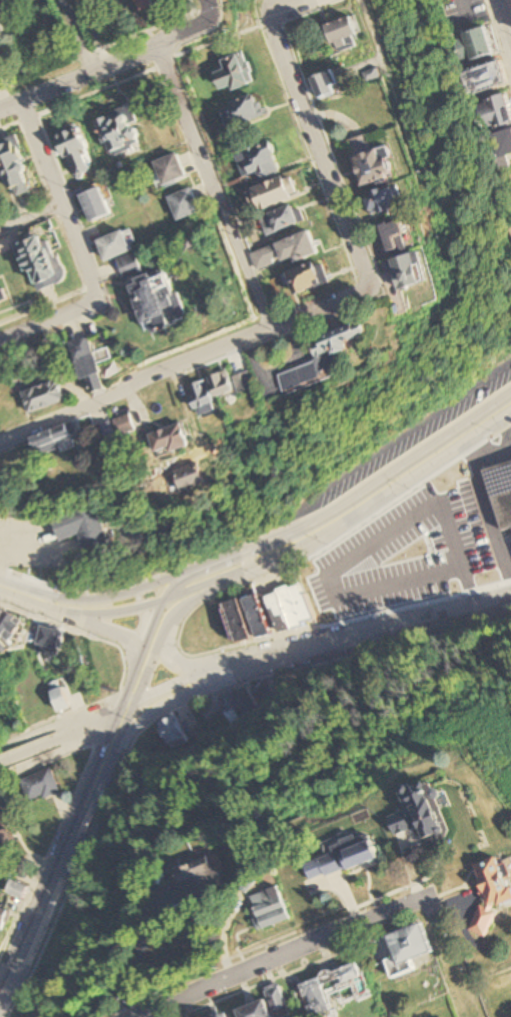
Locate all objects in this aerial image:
road: (302, 1)
road: (277, 2)
road: (325, 2)
road: (191, 6)
road: (463, 10)
road: (212, 12)
road: (304, 12)
road: (254, 13)
park: (242, 16)
road: (504, 21)
road: (238, 22)
road: (269, 23)
building: (343, 31)
road: (201, 32)
road: (234, 34)
road: (78, 36)
road: (498, 41)
building: (471, 46)
road: (377, 47)
road: (97, 51)
road: (104, 69)
building: (371, 74)
building: (485, 77)
building: (323, 83)
road: (87, 94)
building: (495, 112)
road: (316, 140)
building: (503, 142)
road: (309, 159)
building: (372, 162)
road: (215, 187)
road: (225, 190)
building: (385, 197)
road: (61, 202)
building: (510, 208)
road: (31, 216)
building: (402, 255)
road: (99, 268)
road: (375, 271)
road: (51, 321)
road: (186, 363)
building: (245, 381)
building: (222, 384)
road: (504, 412)
parking lot: (415, 436)
road: (390, 443)
parking lot: (502, 443)
road: (493, 455)
road: (415, 467)
building: (500, 492)
road: (488, 513)
road: (270, 531)
road: (260, 545)
road: (366, 546)
parking lot: (404, 553)
road: (244, 570)
road: (13, 595)
road: (116, 596)
road: (139, 598)
building: (295, 603)
road: (44, 607)
building: (276, 612)
road: (114, 614)
road: (185, 615)
building: (255, 615)
building: (235, 620)
road: (140, 624)
road: (153, 624)
road: (167, 627)
road: (107, 631)
road: (129, 643)
road: (251, 665)
road: (179, 667)
road: (170, 710)
road: (40, 732)
building: (40, 785)
building: (420, 813)
building: (267, 835)
road: (65, 847)
building: (344, 858)
building: (193, 881)
building: (244, 883)
building: (489, 892)
building: (268, 912)
road: (222, 937)
building: (407, 951)
road: (138, 952)
road: (280, 957)
building: (330, 990)

